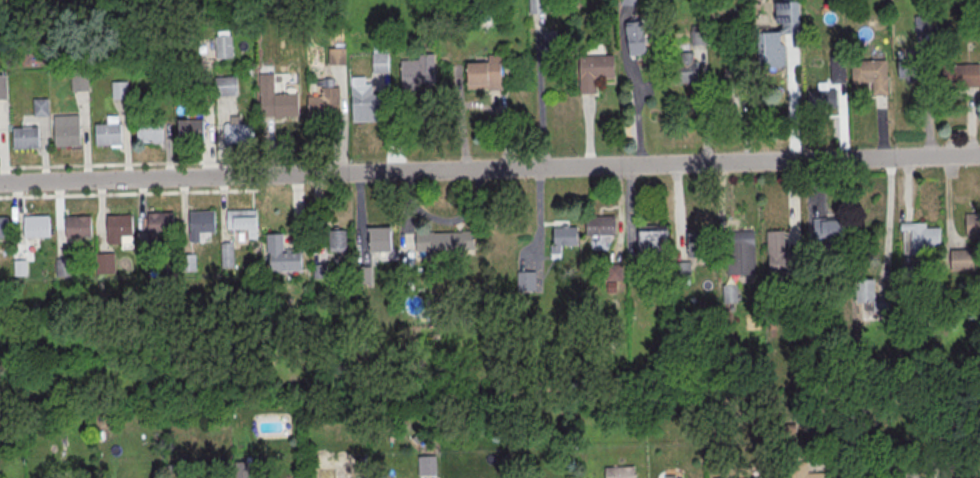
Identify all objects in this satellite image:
building: (629, 3)
building: (538, 7)
building: (924, 26)
building: (636, 39)
building: (698, 39)
building: (775, 39)
building: (552, 48)
building: (224, 50)
building: (337, 58)
building: (380, 65)
building: (910, 67)
building: (686, 71)
building: (838, 71)
building: (595, 73)
building: (418, 74)
building: (871, 74)
building: (486, 75)
building: (961, 77)
building: (81, 84)
building: (3, 88)
building: (226, 88)
road: (541, 90)
building: (120, 91)
building: (276, 101)
building: (823, 101)
building: (365, 103)
building: (325, 104)
road: (704, 104)
road: (637, 108)
building: (41, 109)
road: (843, 122)
road: (971, 122)
building: (68, 133)
building: (193, 133)
building: (150, 134)
building: (239, 135)
building: (109, 136)
building: (26, 137)
road: (490, 169)
road: (820, 190)
road: (129, 194)
road: (794, 204)
road: (679, 214)
road: (888, 217)
building: (241, 222)
road: (539, 222)
building: (203, 224)
building: (600, 224)
building: (162, 227)
building: (973, 227)
building: (121, 228)
building: (5, 229)
building: (37, 229)
building: (79, 229)
building: (833, 234)
building: (923, 239)
building: (564, 241)
building: (337, 242)
building: (381, 243)
building: (444, 244)
building: (653, 244)
building: (699, 248)
building: (227, 254)
building: (740, 254)
building: (284, 257)
building: (783, 258)
building: (962, 261)
building: (104, 264)
building: (188, 265)
building: (64, 269)
building: (319, 270)
building: (682, 272)
building: (614, 274)
building: (363, 277)
building: (909, 278)
building: (527, 283)
building: (730, 294)
building: (874, 298)
building: (427, 468)
building: (807, 472)
building: (620, 473)
building: (885, 474)
building: (963, 474)
building: (673, 476)

